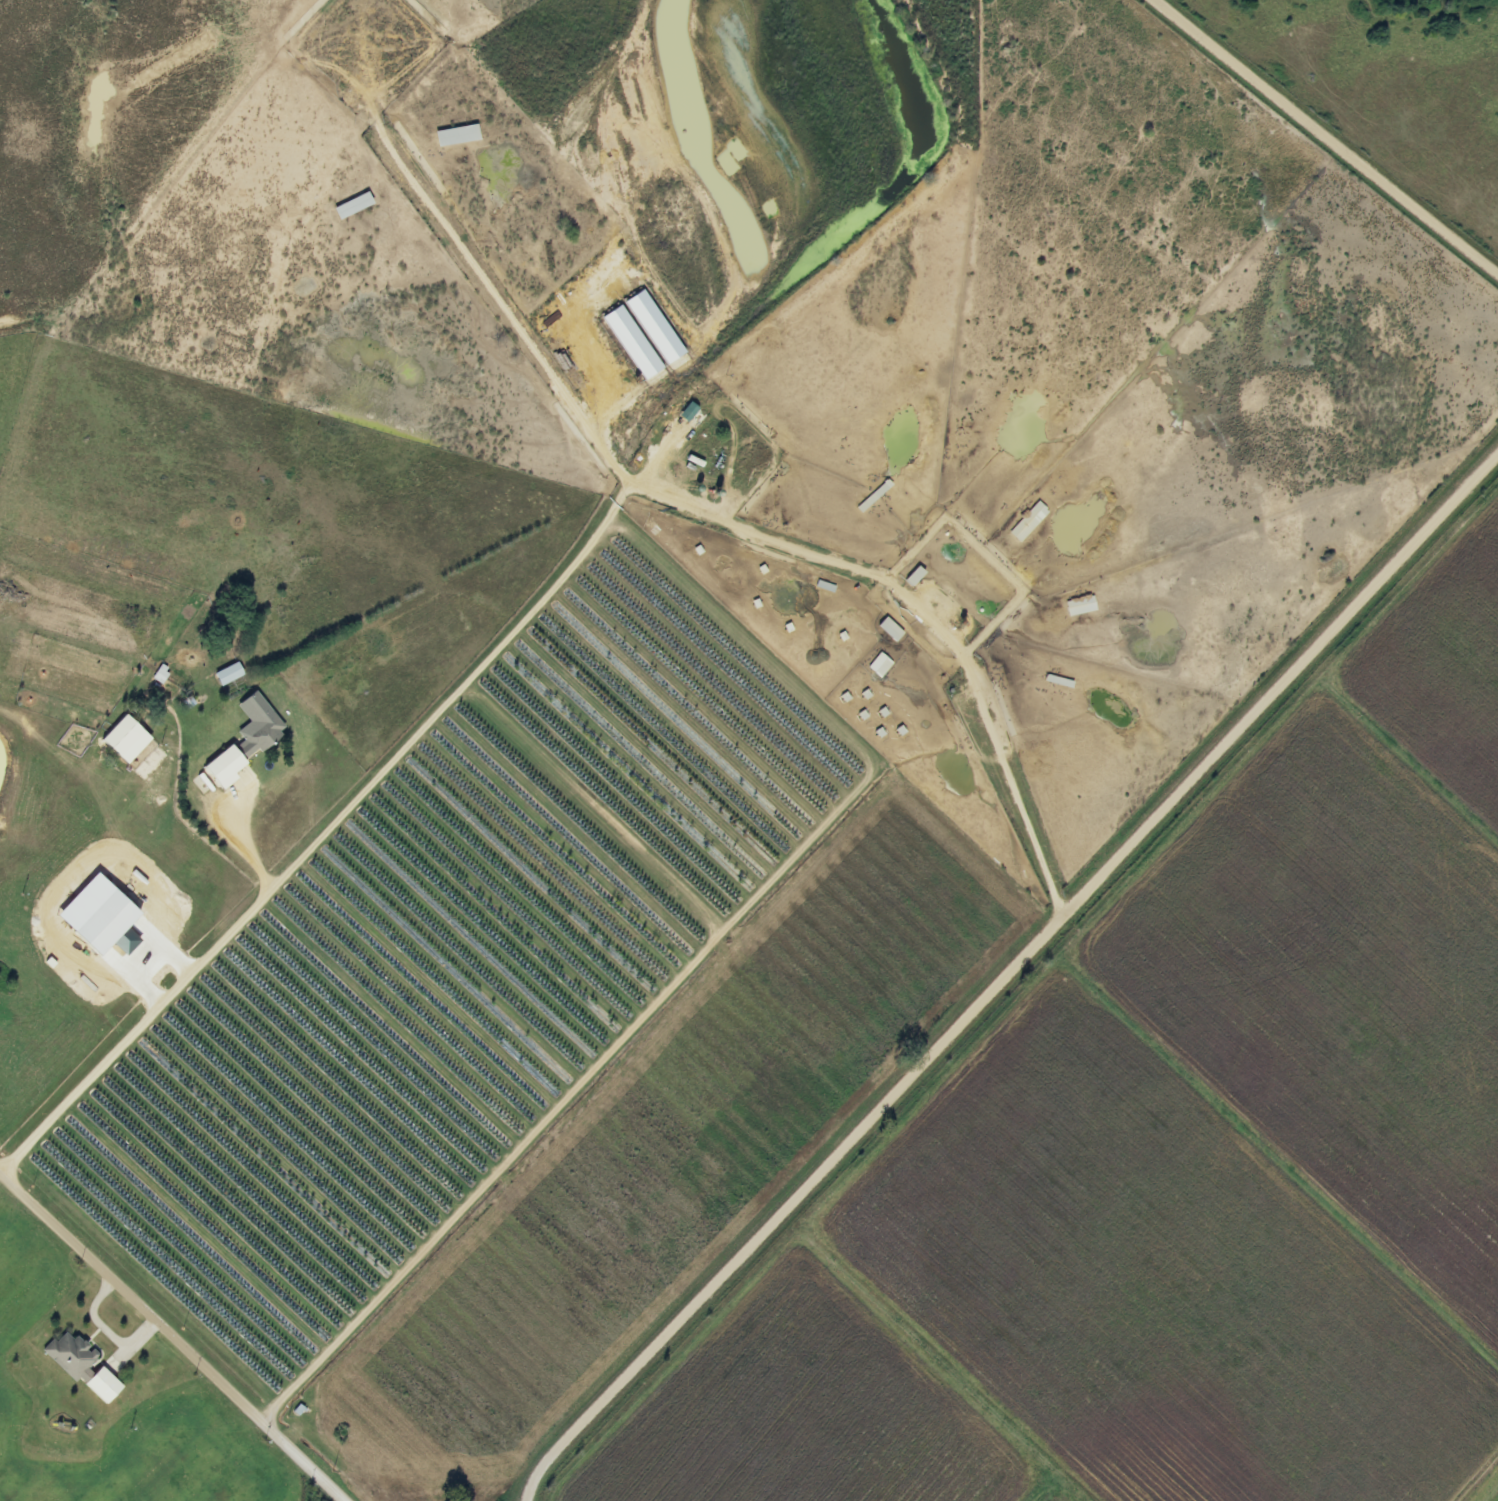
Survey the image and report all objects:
building: (458, 136)
road: (1327, 136)
building: (354, 206)
building: (655, 328)
building: (633, 343)
building: (689, 413)
building: (1030, 522)
building: (916, 576)
building: (1082, 607)
building: (892, 629)
building: (881, 665)
building: (230, 674)
building: (258, 726)
building: (127, 740)
building: (226, 767)
building: (102, 918)
road: (1006, 975)
road: (173, 1335)
building: (73, 1357)
building: (104, 1386)

